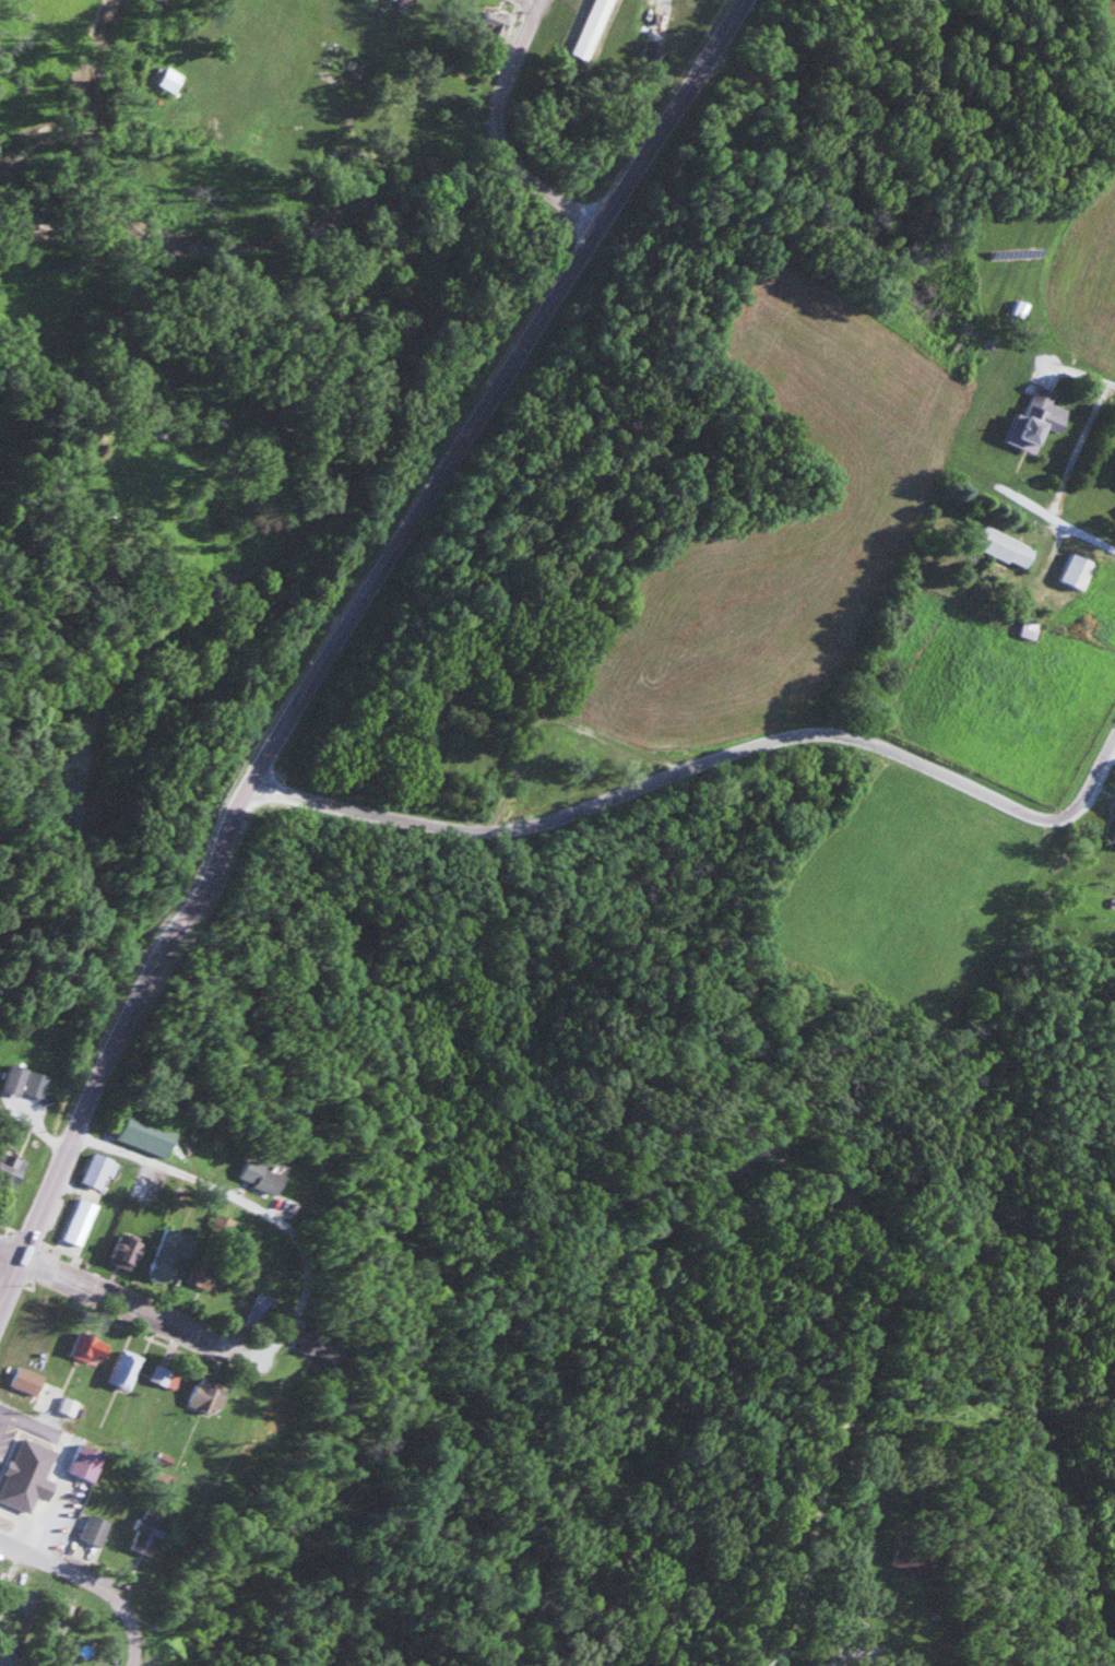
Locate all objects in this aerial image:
building: (494, 23)
building: (591, 28)
building: (656, 38)
road: (488, 132)
building: (1020, 307)
road: (115, 410)
building: (1036, 414)
road: (1065, 527)
building: (1006, 546)
building: (1077, 571)
building: (1029, 628)
road: (335, 634)
road: (548, 716)
road: (653, 770)
road: (1089, 788)
building: (1114, 842)
building: (24, 1082)
building: (144, 1133)
building: (10, 1170)
building: (98, 1171)
road: (190, 1175)
building: (256, 1177)
building: (80, 1220)
building: (127, 1252)
building: (163, 1263)
building: (203, 1271)
road: (126, 1302)
road: (294, 1302)
building: (259, 1310)
building: (315, 1347)
building: (90, 1348)
building: (123, 1369)
building: (158, 1374)
building: (28, 1381)
building: (206, 1393)
building: (86, 1463)
building: (24, 1466)
building: (68, 1522)
building: (147, 1528)
building: (94, 1531)
road: (66, 1558)
building: (906, 1560)
building: (23, 1598)
road: (133, 1631)
park: (847, 1632)
road: (853, 1659)
building: (49, 1665)

